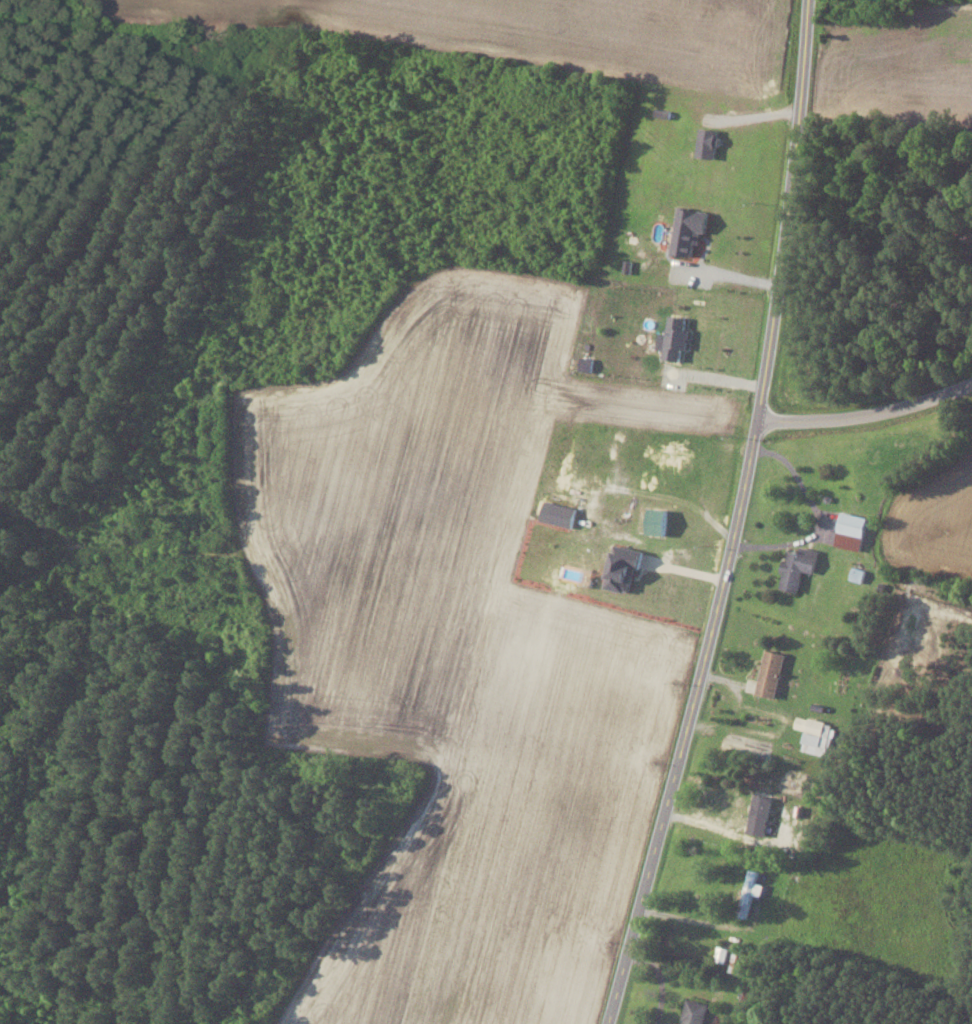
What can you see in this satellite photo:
building: (707, 142)
building: (688, 229)
building: (675, 336)
road: (868, 413)
building: (558, 513)
road: (738, 517)
building: (656, 520)
building: (850, 530)
building: (622, 567)
building: (797, 567)
road: (688, 570)
building: (768, 674)
building: (813, 734)
building: (761, 814)
building: (721, 954)
building: (694, 1012)

